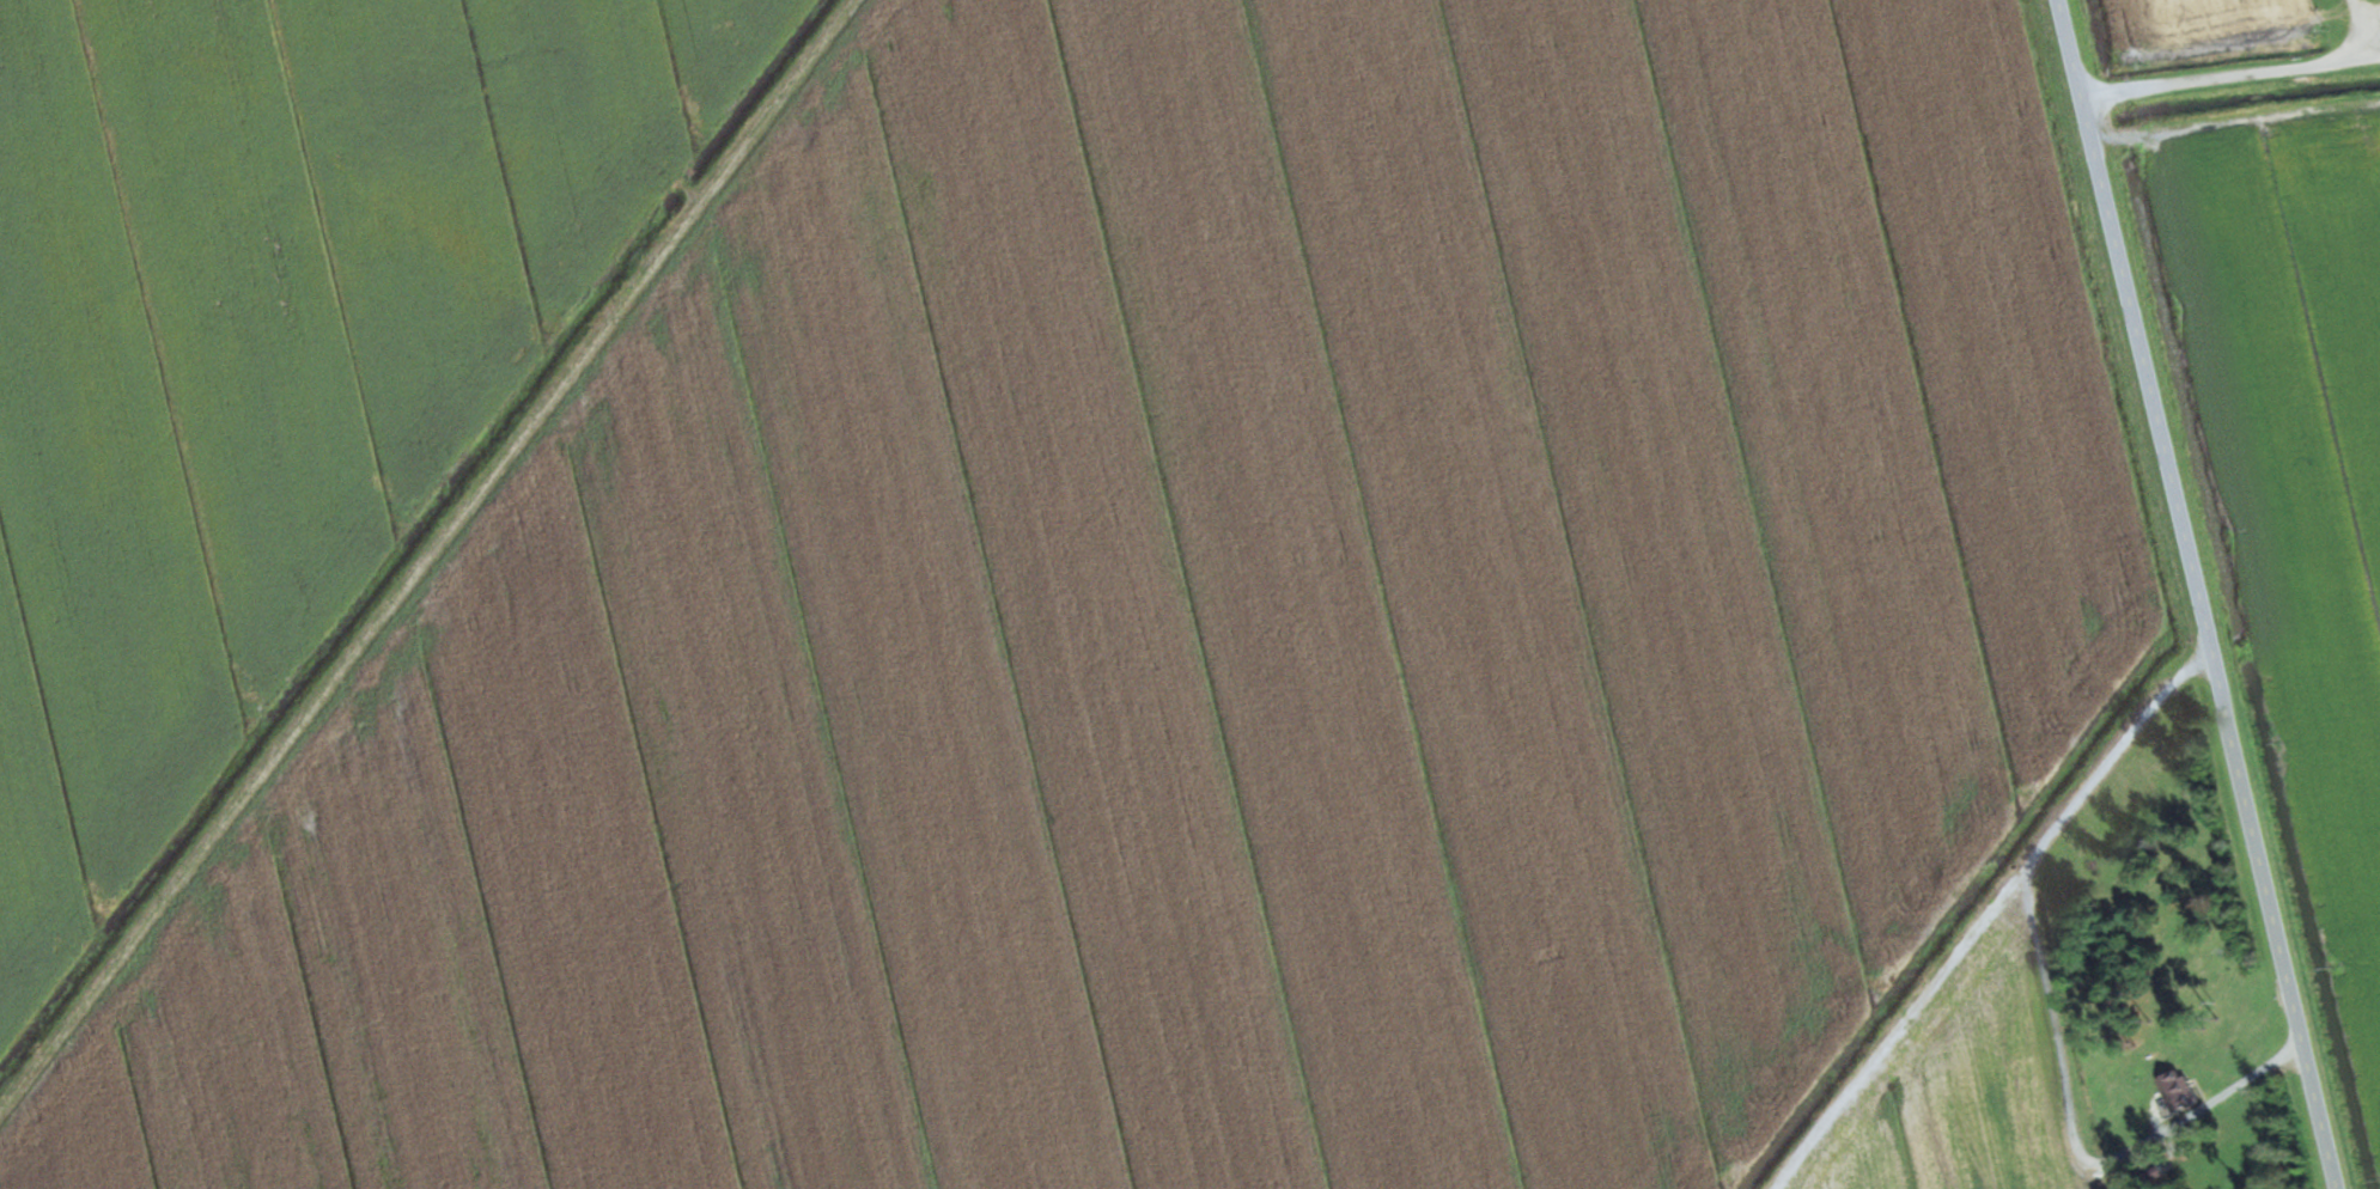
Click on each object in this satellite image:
road: (2350, 19)
road: (2366, 19)
road: (2223, 60)
road: (2228, 105)
crop: (269, 350)
road: (424, 554)
road: (2189, 594)
crop: (1198, 632)
road: (2051, 1000)
road: (1895, 1019)
crop: (1955, 1089)
building: (2177, 1093)

